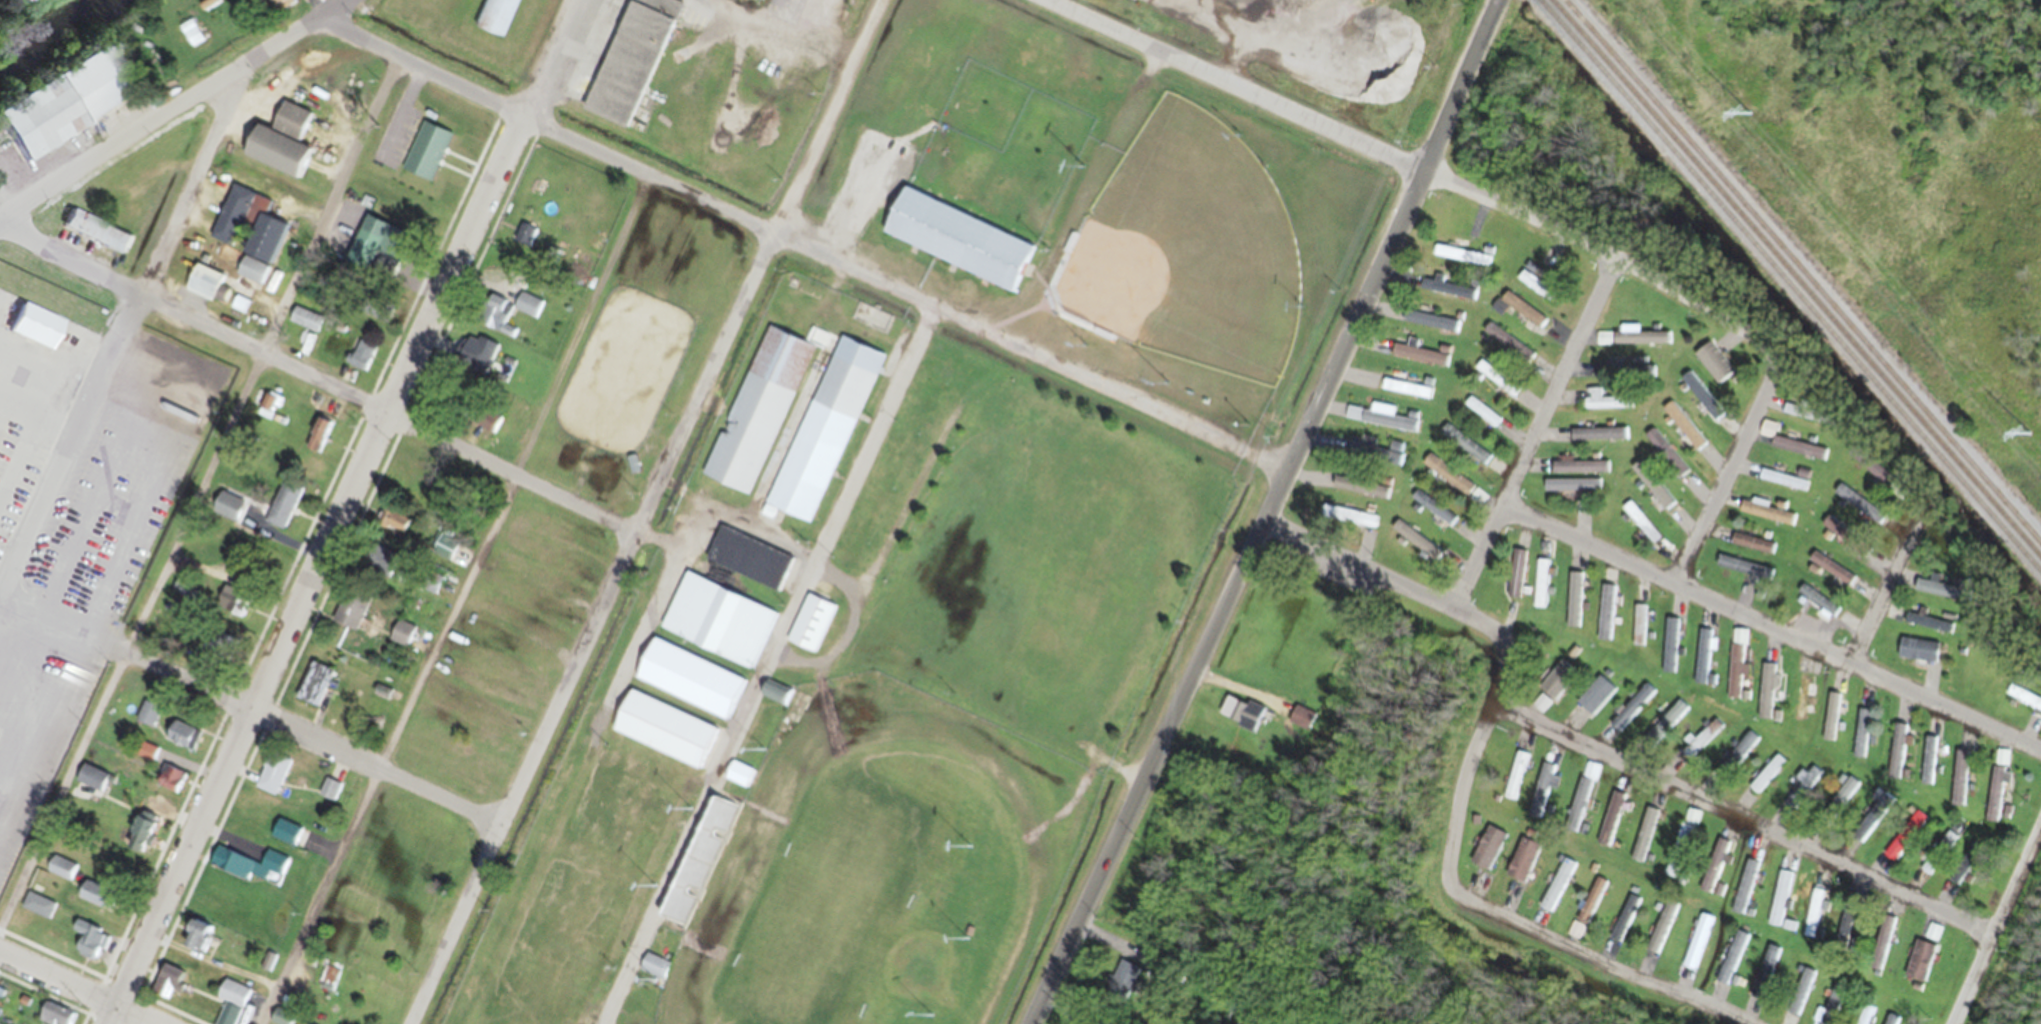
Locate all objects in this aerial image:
building: (298, 1)
building: (276, 8)
building: (497, 19)
building: (631, 64)
road: (1232, 88)
building: (60, 108)
road: (178, 112)
power tower: (1747, 121)
building: (279, 148)
road: (665, 184)
road: (1087, 200)
building: (232, 222)
building: (95, 238)
building: (526, 245)
building: (957, 246)
building: (260, 255)
building: (363, 256)
building: (1461, 263)
railway: (1799, 274)
building: (382, 275)
railway: (1793, 282)
building: (202, 289)
railway: (1786, 289)
building: (1536, 292)
building: (1439, 293)
building: (528, 311)
building: (381, 315)
building: (1522, 316)
road: (1727, 317)
building: (494, 321)
building: (1429, 327)
building: (31, 333)
road: (128, 338)
building: (1638, 344)
building: (1517, 360)
building: (359, 361)
building: (1420, 361)
building: (1712, 369)
road: (316, 383)
building: (1497, 385)
road: (1560, 387)
building: (1407, 394)
building: (1700, 401)
building: (1601, 408)
road: (1149, 410)
building: (757, 418)
building: (1482, 418)
building: (1800, 419)
building: (1384, 428)
building: (1682, 432)
building: (824, 437)
building: (320, 441)
building: (1595, 441)
power tower: (2029, 442)
building: (1464, 451)
building: (1798, 454)
building: (1665, 459)
building: (1578, 473)
building: (1447, 481)
building: (1786, 485)
building: (1652, 491)
building: (1570, 492)
building: (1360, 494)
road: (204, 496)
park: (900, 508)
building: (283, 509)
road: (341, 510)
building: (1859, 510)
road: (645, 513)
road: (1268, 513)
building: (1433, 514)
building: (1767, 518)
building: (1349, 523)
building: (395, 527)
building: (1640, 528)
building: (1751, 550)
building: (1421, 552)
building: (443, 554)
road: (1625, 565)
building: (748, 566)
building: (378, 567)
building: (1741, 574)
building: (1831, 574)
building: (1515, 580)
building: (428, 588)
road: (1878, 588)
building: (1541, 590)
road: (457, 601)
building: (1573, 606)
building: (1817, 606)
building: (233, 609)
building: (350, 616)
building: (1605, 619)
building: (718, 628)
road: (1483, 628)
building: (810, 631)
building: (1638, 631)
building: (401, 640)
building: (219, 651)
building: (1669, 651)
building: (1917, 656)
building: (1703, 662)
road: (765, 666)
building: (1735, 670)
building: (689, 685)
building: (1556, 687)
building: (313, 691)
building: (1766, 697)
building: (1594, 702)
building: (1801, 704)
road: (251, 712)
building: (1630, 714)
building: (147, 720)
building: (1246, 720)
building: (1831, 723)
building: (1666, 728)
road: (44, 735)
building: (664, 735)
building: (1860, 739)
building: (181, 743)
building: (1702, 746)
building: (1740, 756)
building: (1897, 757)
building: (146, 759)
building: (2002, 764)
building: (1928, 766)
building: (738, 780)
building: (1767, 780)
building: (1516, 782)
building: (1959, 784)
building: (169, 786)
building: (1801, 794)
building: (328, 796)
building: (1541, 797)
building: (1995, 797)
building: (1841, 801)
building: (1581, 804)
building: (1610, 824)
building: (1871, 825)
road: (1746, 827)
building: (1643, 840)
building: (1905, 842)
building: (1948, 848)
building: (141, 850)
building: (1682, 850)
building: (1487, 854)
building: (1522, 866)
building: (231, 870)
building: (273, 870)
building: (1714, 870)
building: (1929, 871)
building: (60, 875)
building: (1956, 879)
building: (1561, 884)
building: (1744, 893)
building: (96, 901)
building: (1780, 905)
building: (1590, 908)
building: (37, 911)
building: (1814, 920)
road: (1506, 924)
building: (1624, 925)
road: (1997, 925)
building: (1661, 933)
building: (1844, 937)
building: (1933, 937)
building: (195, 943)
building: (88, 946)
building: (1698, 948)
building: (1882, 948)
building: (1731, 964)
building: (1919, 967)
building: (653, 972)
building: (329, 985)
road: (73, 989)
building: (166, 989)
building: (1800, 998)
building: (234, 1007)
building: (1831, 1011)
building: (52, 1018)
building: (1867, 1018)
building: (632, 1020)

